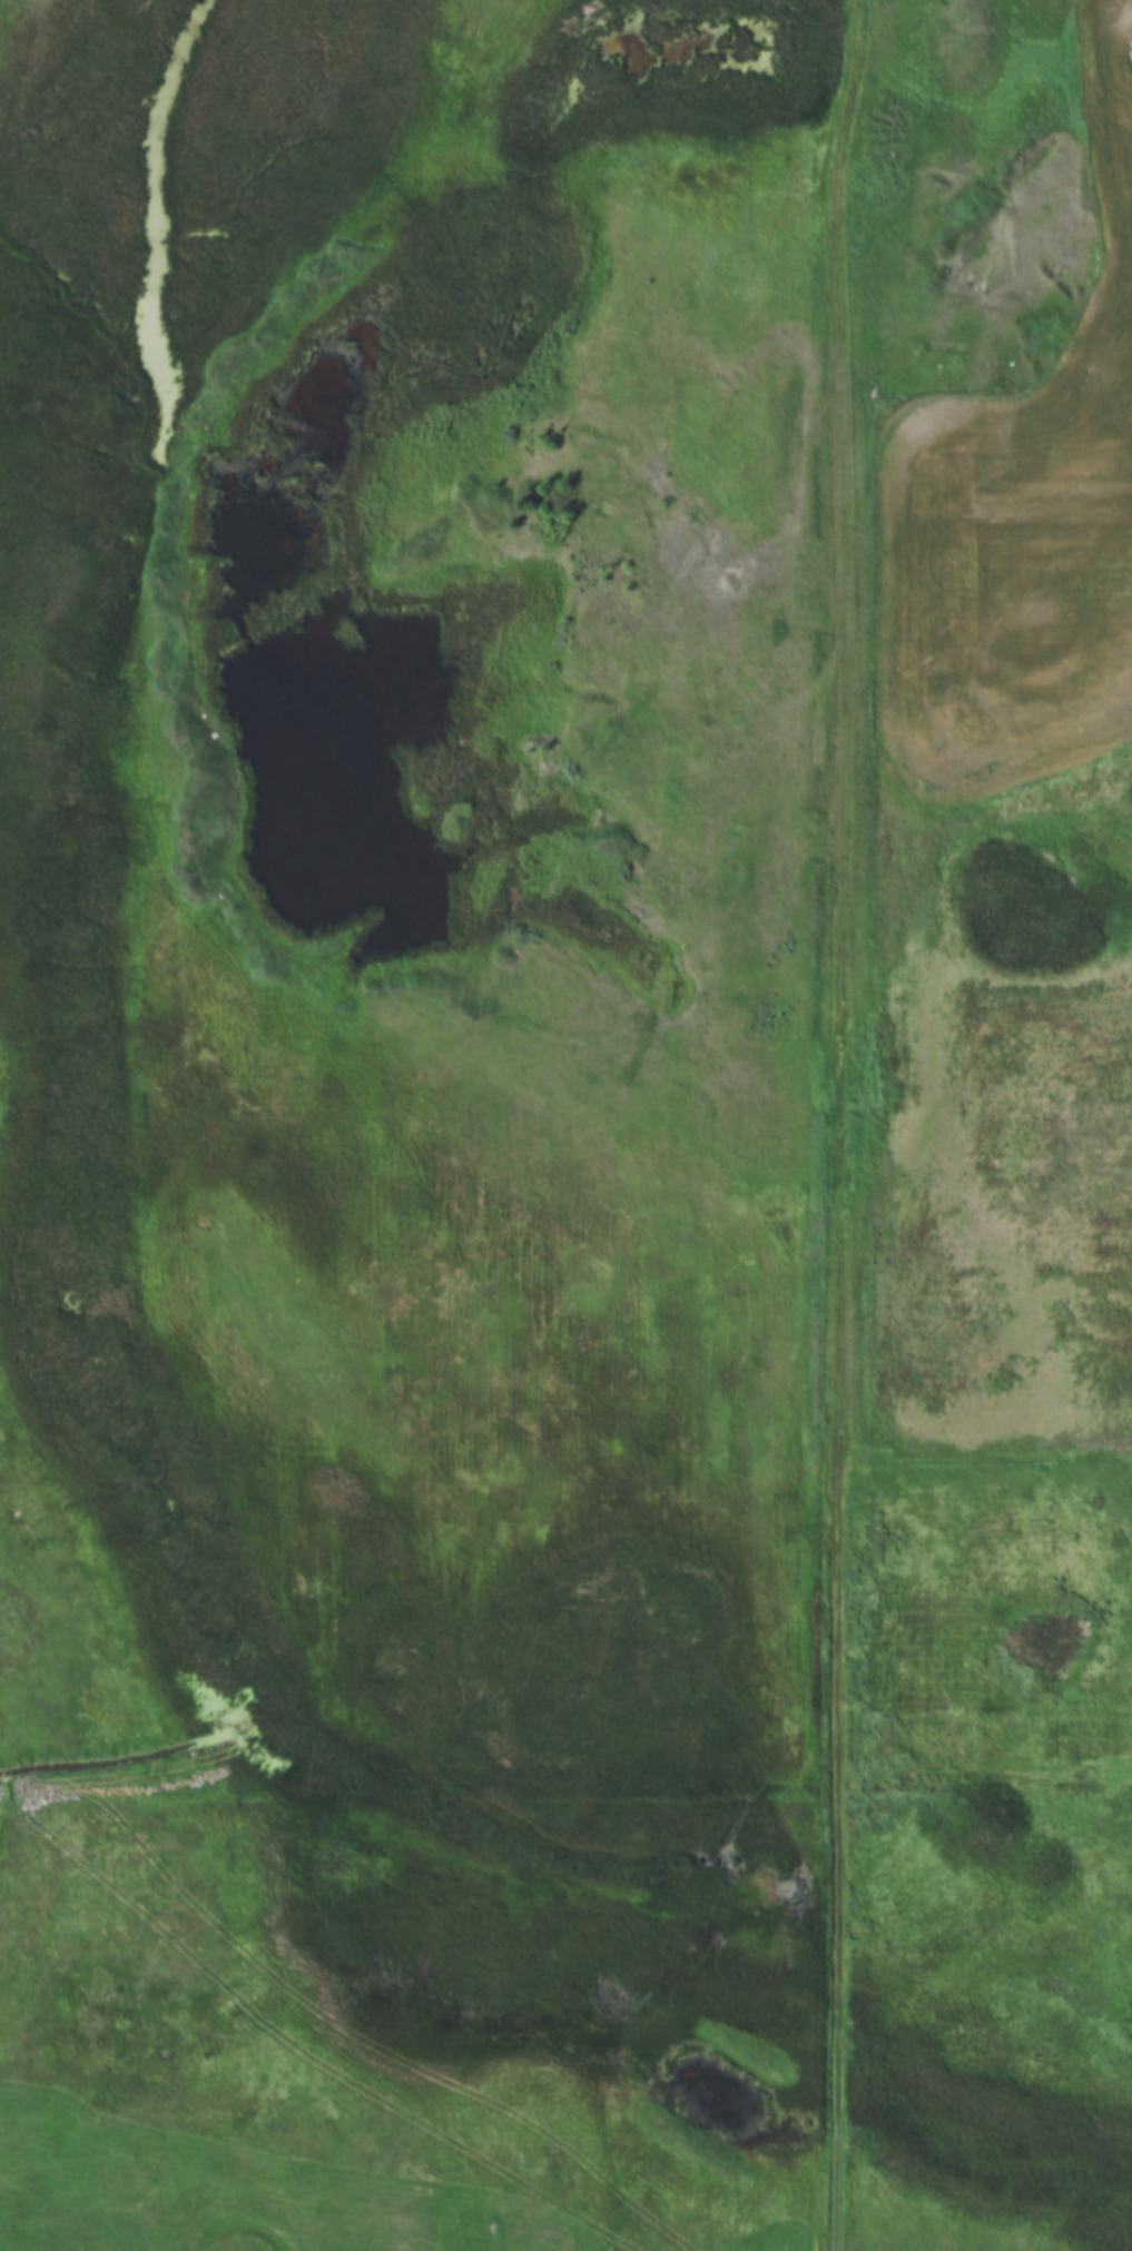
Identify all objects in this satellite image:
road: (844, 1124)

